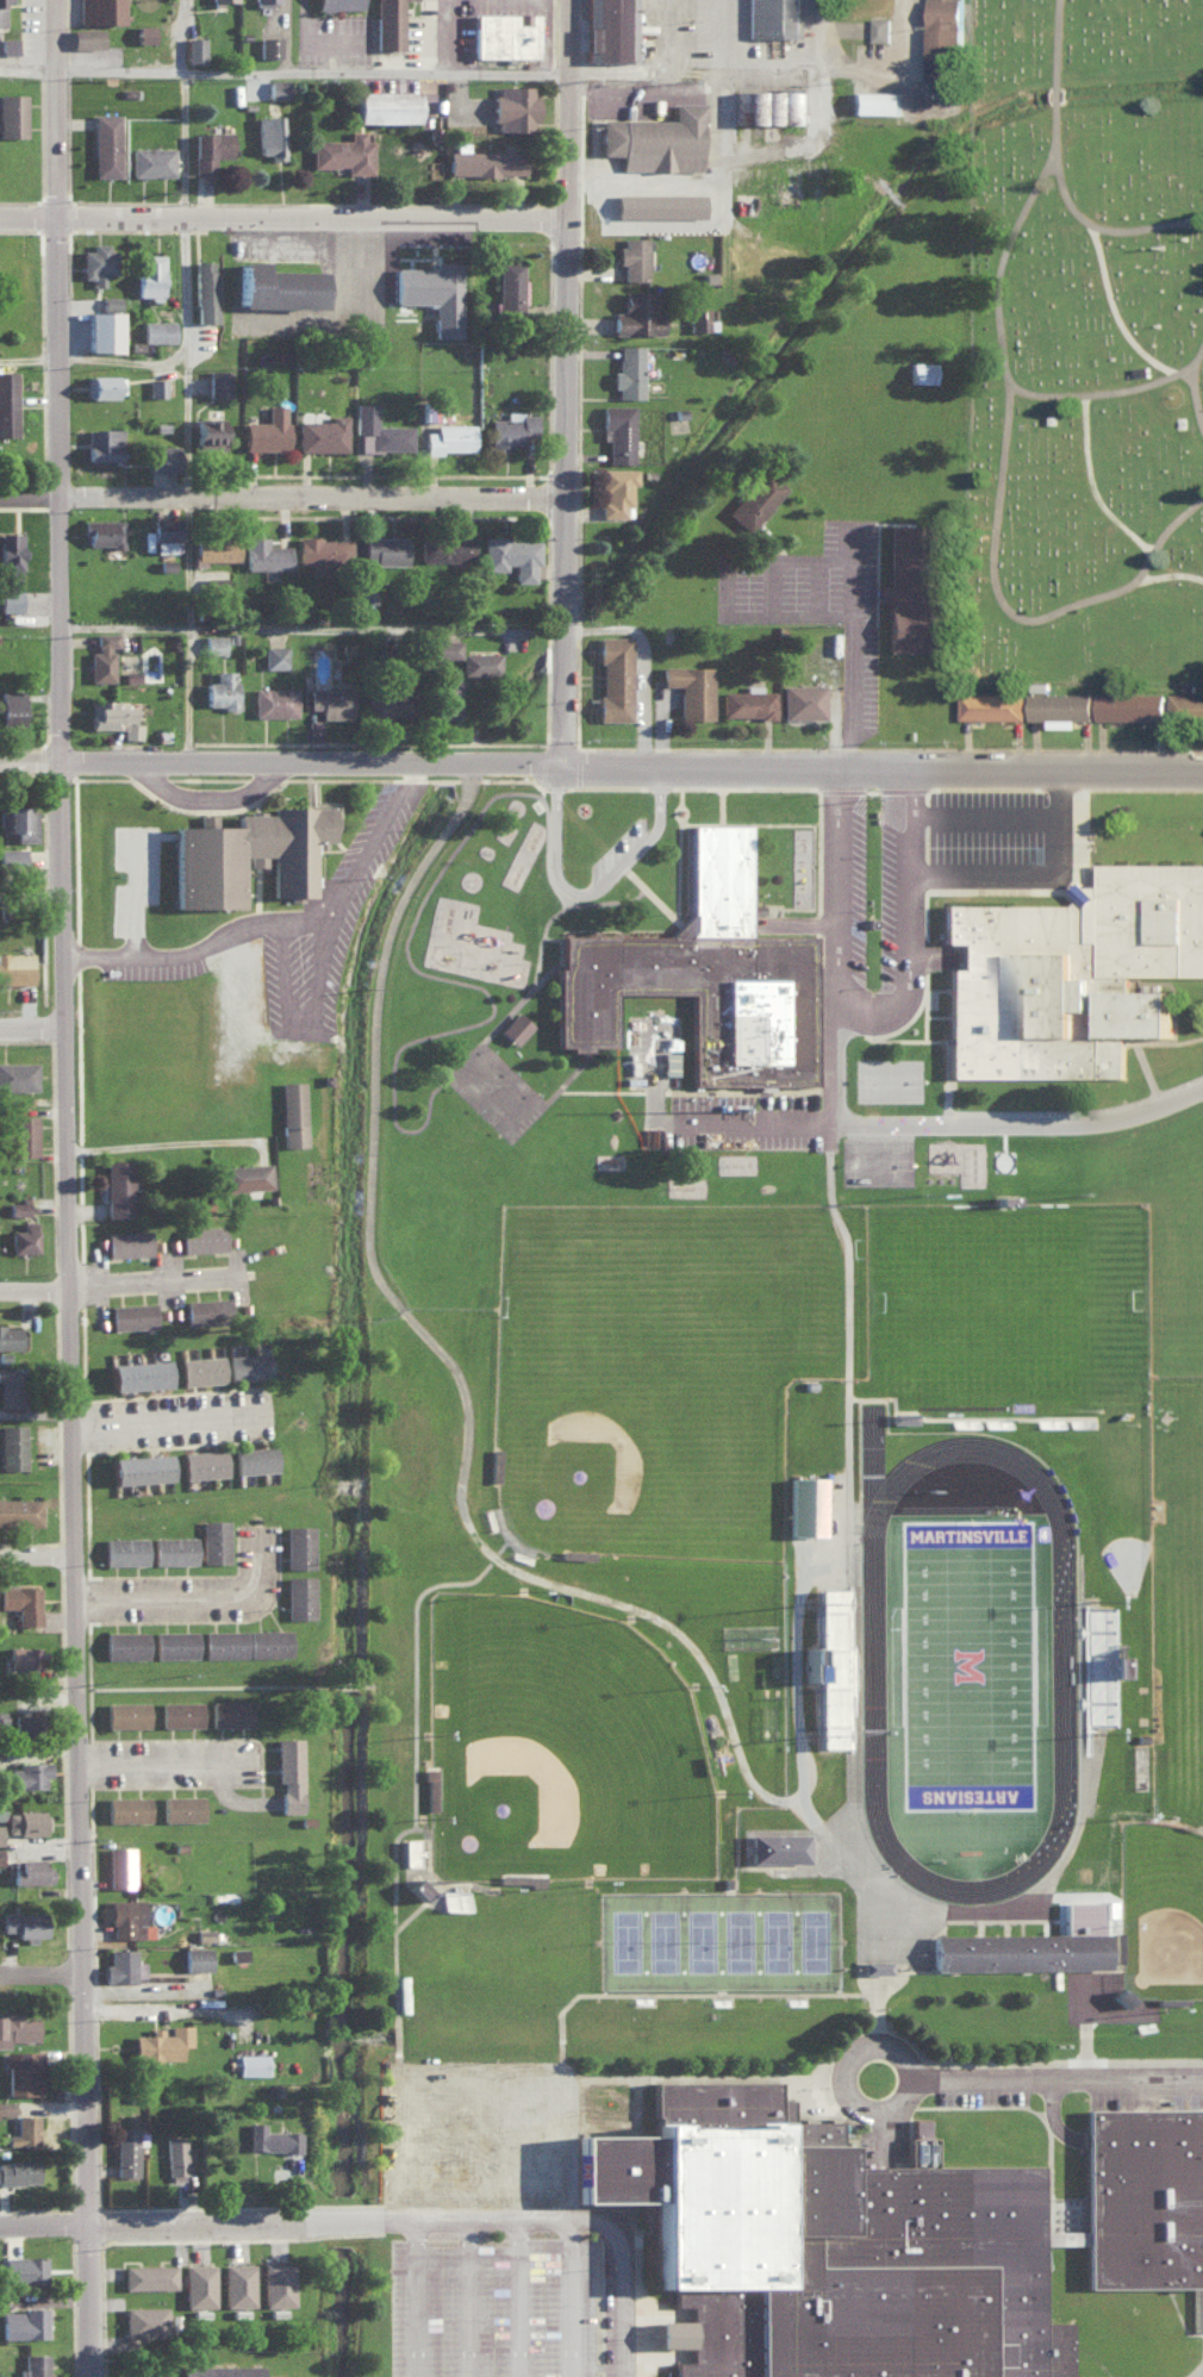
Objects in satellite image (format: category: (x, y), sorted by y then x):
building: (7, 0)
building: (212, 0)
building: (261, 2)
building: (338, 4)
building: (100, 11)
building: (1, 12)
building: (772, 18)
building: (389, 24)
building: (879, 27)
building: (610, 30)
building: (145, 32)
road: (308, 32)
building: (505, 33)
road: (663, 36)
building: (86, 37)
building: (945, 38)
building: (7, 44)
building: (269, 45)
building: (194, 48)
road: (895, 68)
road: (410, 73)
road: (1066, 74)
building: (278, 87)
building: (875, 101)
building: (387, 105)
road: (66, 106)
road: (195, 106)
building: (768, 106)
building: (515, 107)
road: (563, 107)
building: (12, 113)
road: (819, 113)
building: (270, 135)
building: (656, 138)
building: (106, 143)
building: (210, 149)
building: (344, 152)
building: (151, 161)
building: (484, 161)
road: (724, 171)
building: (660, 204)
road: (1199, 211)
road: (281, 214)
road: (1112, 219)
road: (660, 225)
building: (634, 256)
building: (98, 262)
building: (150, 274)
building: (278, 286)
building: (510, 287)
building: (205, 289)
building: (434, 292)
building: (111, 301)
road: (1124, 302)
building: (637, 313)
road: (349, 317)
building: (702, 318)
building: (104, 330)
building: (158, 330)
park: (1091, 330)
road: (1014, 350)
road: (186, 355)
road: (27, 357)
road: (1195, 368)
building: (629, 370)
building: (922, 372)
building: (218, 382)
building: (105, 385)
building: (156, 386)
building: (7, 403)
building: (267, 429)
building: (511, 429)
building: (380, 430)
building: (618, 431)
building: (208, 432)
building: (323, 433)
building: (449, 437)
building: (104, 443)
building: (162, 456)
road: (1103, 478)
road: (561, 489)
building: (616, 489)
road: (280, 497)
building: (755, 500)
building: (102, 531)
building: (164, 532)
building: (217, 547)
building: (445, 548)
building: (385, 550)
building: (324, 551)
building: (264, 554)
building: (512, 555)
building: (10, 569)
road: (1166, 569)
building: (217, 584)
building: (367, 593)
building: (915, 594)
road: (1018, 603)
road: (202, 630)
road: (311, 630)
building: (214, 643)
building: (442, 648)
building: (102, 656)
building: (275, 656)
building: (480, 662)
road: (640, 662)
road: (849, 662)
building: (615, 676)
building: (691, 688)
building: (223, 690)
building: (444, 697)
building: (331, 700)
building: (802, 700)
building: (274, 701)
building: (386, 701)
building: (747, 703)
building: (1185, 703)
building: (11, 705)
building: (991, 705)
building: (1060, 705)
building: (1130, 705)
building: (114, 717)
road: (601, 763)
road: (1072, 784)
road: (925, 785)
road: (223, 803)
road: (998, 805)
building: (19, 819)
building: (248, 851)
building: (12, 854)
road: (1024, 865)
road: (590, 890)
road: (30, 896)
road: (335, 947)
road: (204, 956)
building: (15, 966)
building: (1071, 971)
building: (704, 975)
road: (867, 1003)
building: (516, 1027)
road: (31, 1028)
park: (902, 1072)
building: (18, 1075)
building: (292, 1111)
road: (965, 1113)
road: (844, 1122)
road: (698, 1130)
building: (21, 1134)
road: (175, 1146)
park: (891, 1153)
building: (245, 1175)
building: (118, 1187)
building: (18, 1205)
road: (66, 1219)
building: (202, 1236)
building: (24, 1237)
building: (129, 1241)
road: (160, 1283)
road: (33, 1287)
park: (1006, 1297)
building: (207, 1309)
building: (132, 1314)
building: (10, 1335)
building: (248, 1366)
building: (200, 1367)
building: (138, 1373)
building: (11, 1385)
building: (902, 1416)
road: (174, 1423)
park: (640, 1423)
building: (12, 1445)
building: (254, 1458)
building: (205, 1461)
building: (141, 1467)
building: (806, 1504)
building: (20, 1510)
building: (216, 1539)
building: (298, 1546)
building: (174, 1548)
building: (123, 1549)
road: (497, 1553)
road: (36, 1555)
road: (263, 1570)
building: (299, 1596)
building: (21, 1599)
road: (166, 1601)
building: (224, 1641)
building: (270, 1641)
building: (125, 1642)
building: (175, 1643)
building: (23, 1655)
park: (968, 1664)
building: (833, 1665)
track: (1061, 1667)
road: (810, 1679)
road: (379, 1689)
road: (362, 1690)
road: (217, 1691)
building: (181, 1711)
building: (230, 1711)
building: (125, 1712)
building: (25, 1722)
park: (573, 1751)
road: (168, 1768)
building: (289, 1772)
building: (29, 1773)
building: (430, 1788)
road: (428, 1798)
building: (182, 1805)
road: (247, 1805)
building: (126, 1807)
building: (26, 1822)
building: (0, 1833)
building: (779, 1846)
building: (411, 1851)
building: (0, 1855)
building: (119, 1864)
building: (30, 1870)
building: (528, 1878)
building: (418, 1888)
building: (453, 1898)
park: (1167, 1899)
building: (124, 1915)
building: (25, 1923)
park: (790, 1932)
park: (829, 1932)
park: (636, 1933)
park: (677, 1933)
park: (715, 1933)
park: (752, 1933)
building: (1021, 1949)
building: (237, 1953)
building: (197, 1958)
building: (123, 1964)
building: (875, 1965)
road: (42, 1978)
road: (168, 2016)
building: (18, 2027)
building: (158, 2045)
building: (253, 2063)
building: (21, 2071)
road: (1054, 2071)
road: (499, 2079)
road: (530, 2083)
road: (480, 2092)
road: (841, 2095)
building: (5, 2105)
building: (24, 2129)
road: (574, 2136)
building: (272, 2139)
road: (530, 2140)
parking lot: (484, 2146)
road: (429, 2147)
building: (125, 2150)
road: (480, 2153)
building: (175, 2154)
building: (19, 2170)
road: (575, 2208)
road: (590, 2211)
road: (530, 2213)
road: (430, 2222)
road: (480, 2222)
road: (241, 2225)
road: (43, 2227)
building: (893, 2236)
building: (24, 2266)
building: (149, 2275)
building: (238, 2283)
building: (280, 2283)
building: (198, 2284)
road: (86, 2302)
road: (531, 2303)
road: (579, 2303)
parking lot: (507, 2307)
road: (430, 2310)
road: (480, 2310)
building: (145, 2320)
building: (25, 2321)
building: (35, 2365)
building: (222, 2370)
building: (125, 2375)

